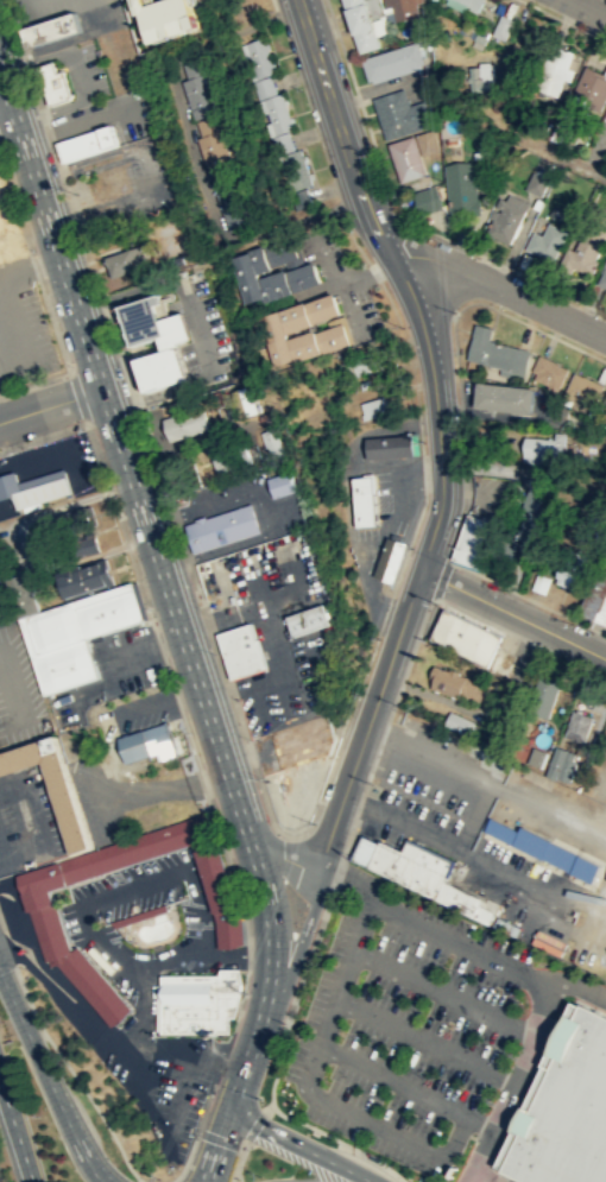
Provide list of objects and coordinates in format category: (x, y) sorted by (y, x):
road: (15, 0)
road: (7, 2)
building: (472, 4)
road: (272, 5)
building: (404, 7)
road: (587, 8)
road: (90, 14)
parking lot: (105, 18)
building: (176, 18)
building: (364, 20)
road: (563, 20)
building: (503, 26)
building: (55, 30)
road: (48, 45)
building: (259, 58)
building: (392, 59)
building: (554, 69)
street lamp: (103, 70)
road: (78, 74)
building: (478, 78)
building: (52, 83)
building: (592, 84)
building: (198, 90)
road: (4, 95)
road: (361, 112)
building: (400, 113)
parking lot: (109, 116)
building: (276, 116)
building: (605, 118)
road: (86, 119)
building: (560, 127)
building: (210, 141)
building: (427, 141)
building: (89, 144)
building: (408, 158)
road: (570, 160)
building: (0, 171)
building: (296, 172)
building: (537, 182)
building: (461, 188)
building: (428, 198)
building: (232, 203)
building: (4, 219)
building: (507, 221)
road: (23, 226)
building: (547, 241)
building: (585, 249)
street lamp: (34, 251)
building: (125, 260)
road: (33, 263)
road: (505, 266)
road: (429, 267)
road: (29, 268)
building: (270, 273)
building: (602, 278)
road: (500, 290)
street lamp: (456, 310)
parking lot: (24, 325)
building: (302, 331)
building: (171, 340)
road: (10, 348)
building: (497, 350)
road: (455, 353)
street lamp: (72, 365)
building: (361, 365)
building: (548, 373)
road: (34, 383)
building: (582, 388)
road: (77, 397)
building: (505, 397)
building: (242, 400)
road: (50, 405)
building: (604, 405)
building: (372, 407)
building: (185, 423)
road: (438, 430)
road: (43, 436)
building: (271, 442)
building: (389, 445)
building: (544, 449)
building: (231, 456)
street lamp: (101, 481)
building: (282, 483)
building: (33, 487)
building: (361, 500)
building: (531, 511)
building: (74, 519)
building: (221, 527)
building: (473, 539)
road: (151, 543)
building: (82, 545)
street lamp: (412, 546)
building: (503, 550)
building: (390, 558)
building: (572, 568)
building: (84, 579)
road: (441, 579)
street lamp: (503, 588)
road: (507, 588)
road: (141, 594)
building: (596, 595)
building: (111, 609)
street lamp: (150, 609)
road: (513, 613)
road: (476, 615)
building: (311, 618)
road: (587, 626)
building: (468, 636)
road: (535, 644)
building: (61, 646)
building: (245, 650)
road: (577, 664)
building: (455, 683)
road: (397, 695)
building: (544, 696)
building: (459, 722)
building: (577, 725)
street lamp: (190, 732)
road: (245, 739)
building: (305, 739)
building: (150, 742)
building: (539, 756)
building: (563, 763)
road: (203, 783)
building: (55, 784)
road: (356, 803)
road: (359, 803)
parking lot: (30, 818)
street lamp: (314, 822)
road: (33, 824)
road: (329, 830)
road: (348, 836)
road: (263, 837)
street lamp: (228, 848)
building: (548, 848)
road: (227, 854)
road: (301, 858)
road: (474, 858)
parking lot: (476, 866)
road: (336, 872)
building: (423, 872)
building: (46, 917)
parking lot: (12, 919)
road: (2, 924)
road: (248, 940)
road: (298, 944)
road: (10, 948)
road: (305, 967)
road: (518, 971)
road: (574, 982)
road: (444, 993)
building: (200, 1000)
road: (241, 1004)
parking lot: (406, 1026)
road: (254, 1039)
road: (427, 1041)
road: (219, 1066)
road: (274, 1075)
road: (75, 1076)
road: (48, 1080)
road: (304, 1085)
road: (406, 1086)
road: (239, 1087)
road: (267, 1107)
building: (569, 1107)
road: (254, 1125)
road: (14, 1132)
road: (219, 1139)
road: (339, 1139)
road: (194, 1140)
road: (220, 1146)
road: (298, 1146)
road: (239, 1161)
road: (202, 1175)
road: (103, 1176)
road: (471, 1177)
road: (475, 1177)
road: (487, 1177)

